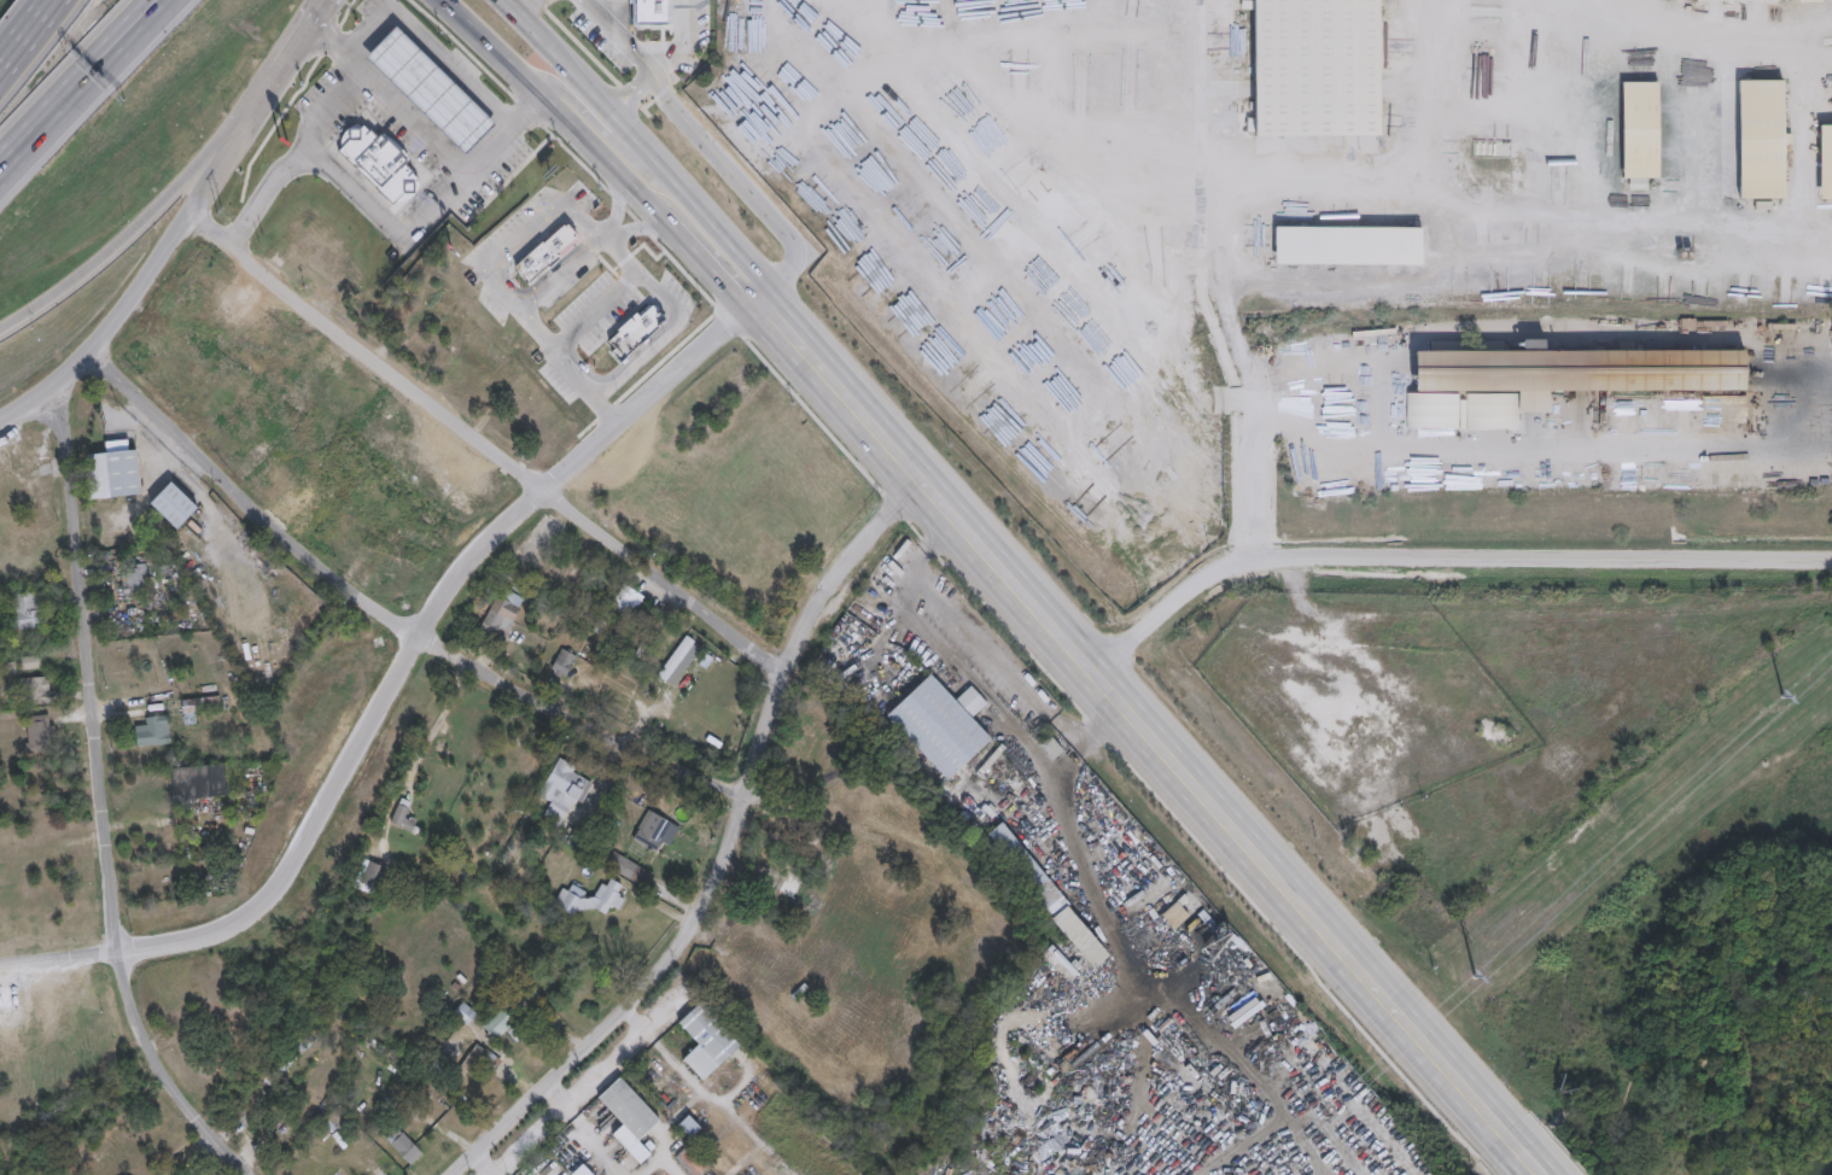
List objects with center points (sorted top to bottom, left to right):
building: (1740, 0)
building: (1810, 0)
road: (509, 8)
road: (526, 8)
road: (609, 10)
building: (649, 11)
building: (685, 14)
road: (1726, 28)
road: (24, 33)
road: (480, 41)
road: (682, 42)
road: (554, 51)
building: (1315, 66)
road: (643, 76)
road: (66, 78)
road: (86, 84)
road: (637, 84)
building: (431, 89)
road: (535, 94)
road: (387, 100)
road: (326, 104)
road: (597, 123)
building: (1639, 129)
road: (501, 136)
road: (705, 136)
building: (1761, 139)
road: (591, 147)
building: (1825, 162)
building: (379, 163)
road: (1393, 168)
road: (263, 195)
road: (646, 199)
road: (701, 204)
road: (1214, 205)
road: (153, 206)
road: (617, 212)
road: (381, 220)
road: (180, 221)
road: (630, 227)
building: (1348, 244)
road: (494, 258)
road: (559, 274)
road: (717, 277)
building: (211, 290)
road: (661, 332)
building: (1580, 369)
road: (607, 411)
road: (480, 445)
road: (1461, 454)
building: (113, 470)
building: (174, 504)
building: (344, 525)
road: (1437, 555)
building: (134, 578)
building: (27, 609)
road: (389, 612)
building: (502, 615)
road: (990, 654)
building: (679, 655)
building: (564, 661)
road: (401, 670)
building: (36, 689)
power tower: (1784, 696)
building: (200, 702)
road: (436, 721)
building: (940, 724)
building: (152, 730)
building: (40, 733)
road: (1134, 733)
building: (199, 779)
building: (561, 791)
road: (100, 795)
building: (403, 816)
building: (655, 832)
building: (813, 844)
road: (724, 850)
building: (626, 867)
building: (372, 872)
building: (1046, 894)
building: (591, 898)
building: (1174, 913)
power tower: (1475, 976)
building: (465, 1012)
building: (508, 1022)
building: (706, 1040)
building: (654, 1074)
road: (588, 1081)
building: (262, 1087)
building: (629, 1116)
building: (689, 1126)
road: (585, 1128)
building: (278, 1129)
building: (403, 1145)
road: (1509, 1151)
building: (692, 1159)
road: (659, 1161)
road: (486, 1163)
building: (582, 1170)

